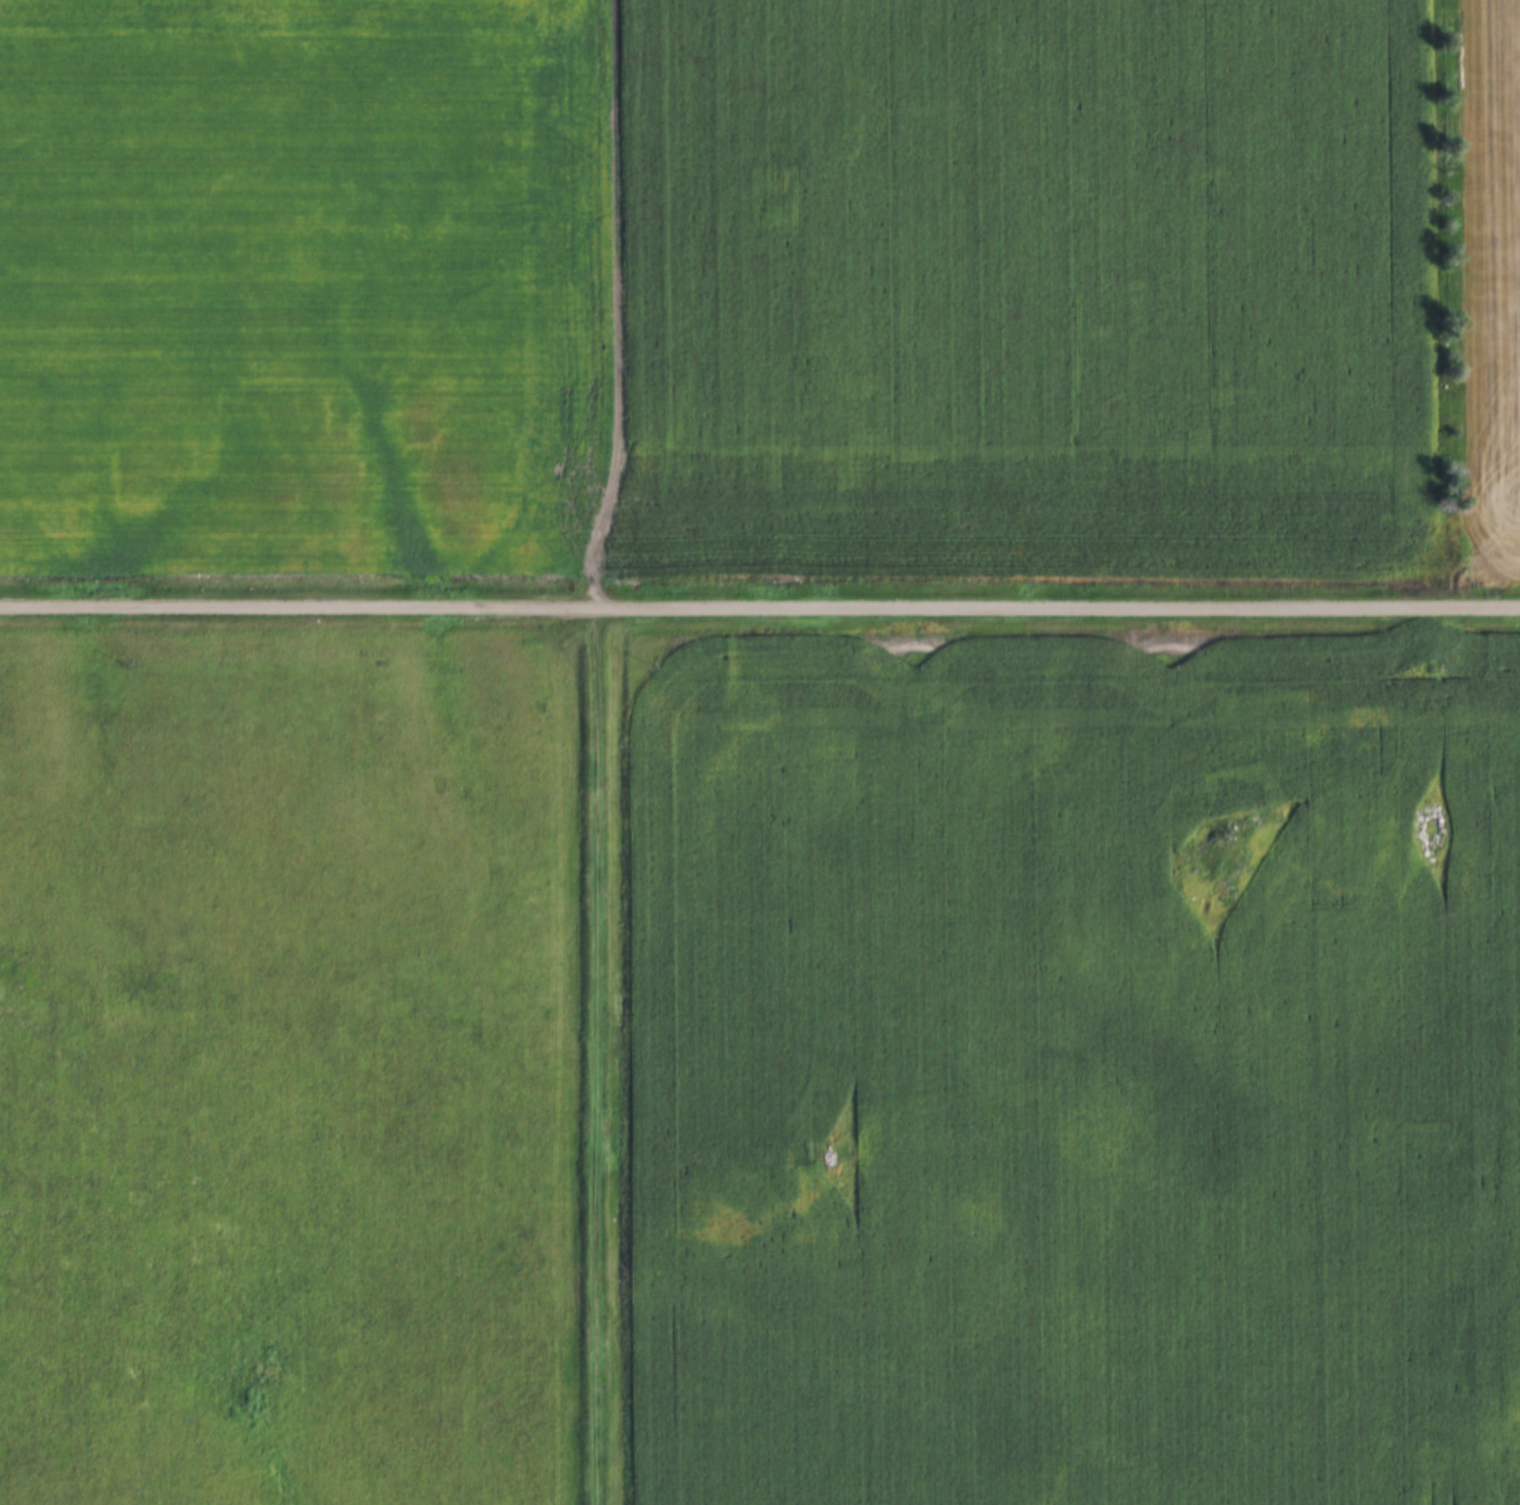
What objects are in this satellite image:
road: (598, 301)
road: (759, 601)

